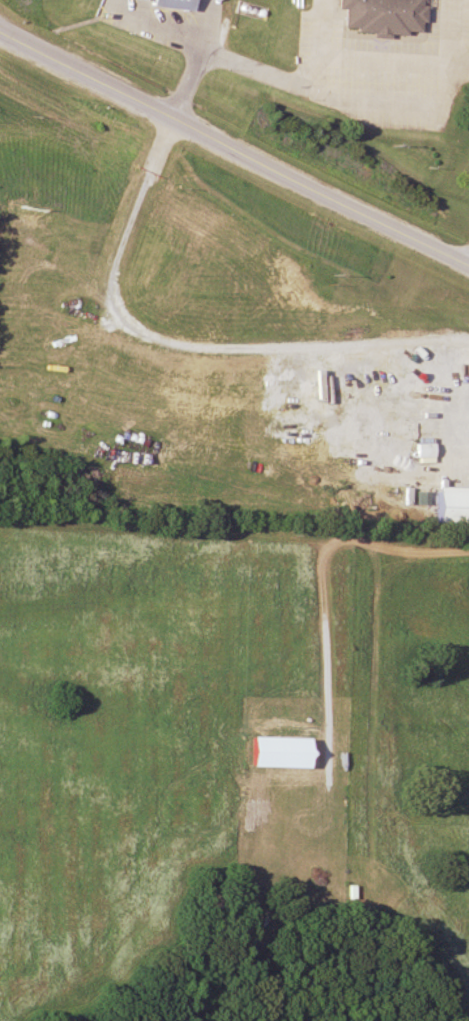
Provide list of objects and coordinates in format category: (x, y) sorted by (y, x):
building: (141, 0)
building: (179, 4)
building: (381, 16)
road: (335, 74)
road: (193, 86)
road: (235, 148)
building: (424, 429)
building: (448, 504)
building: (285, 751)

